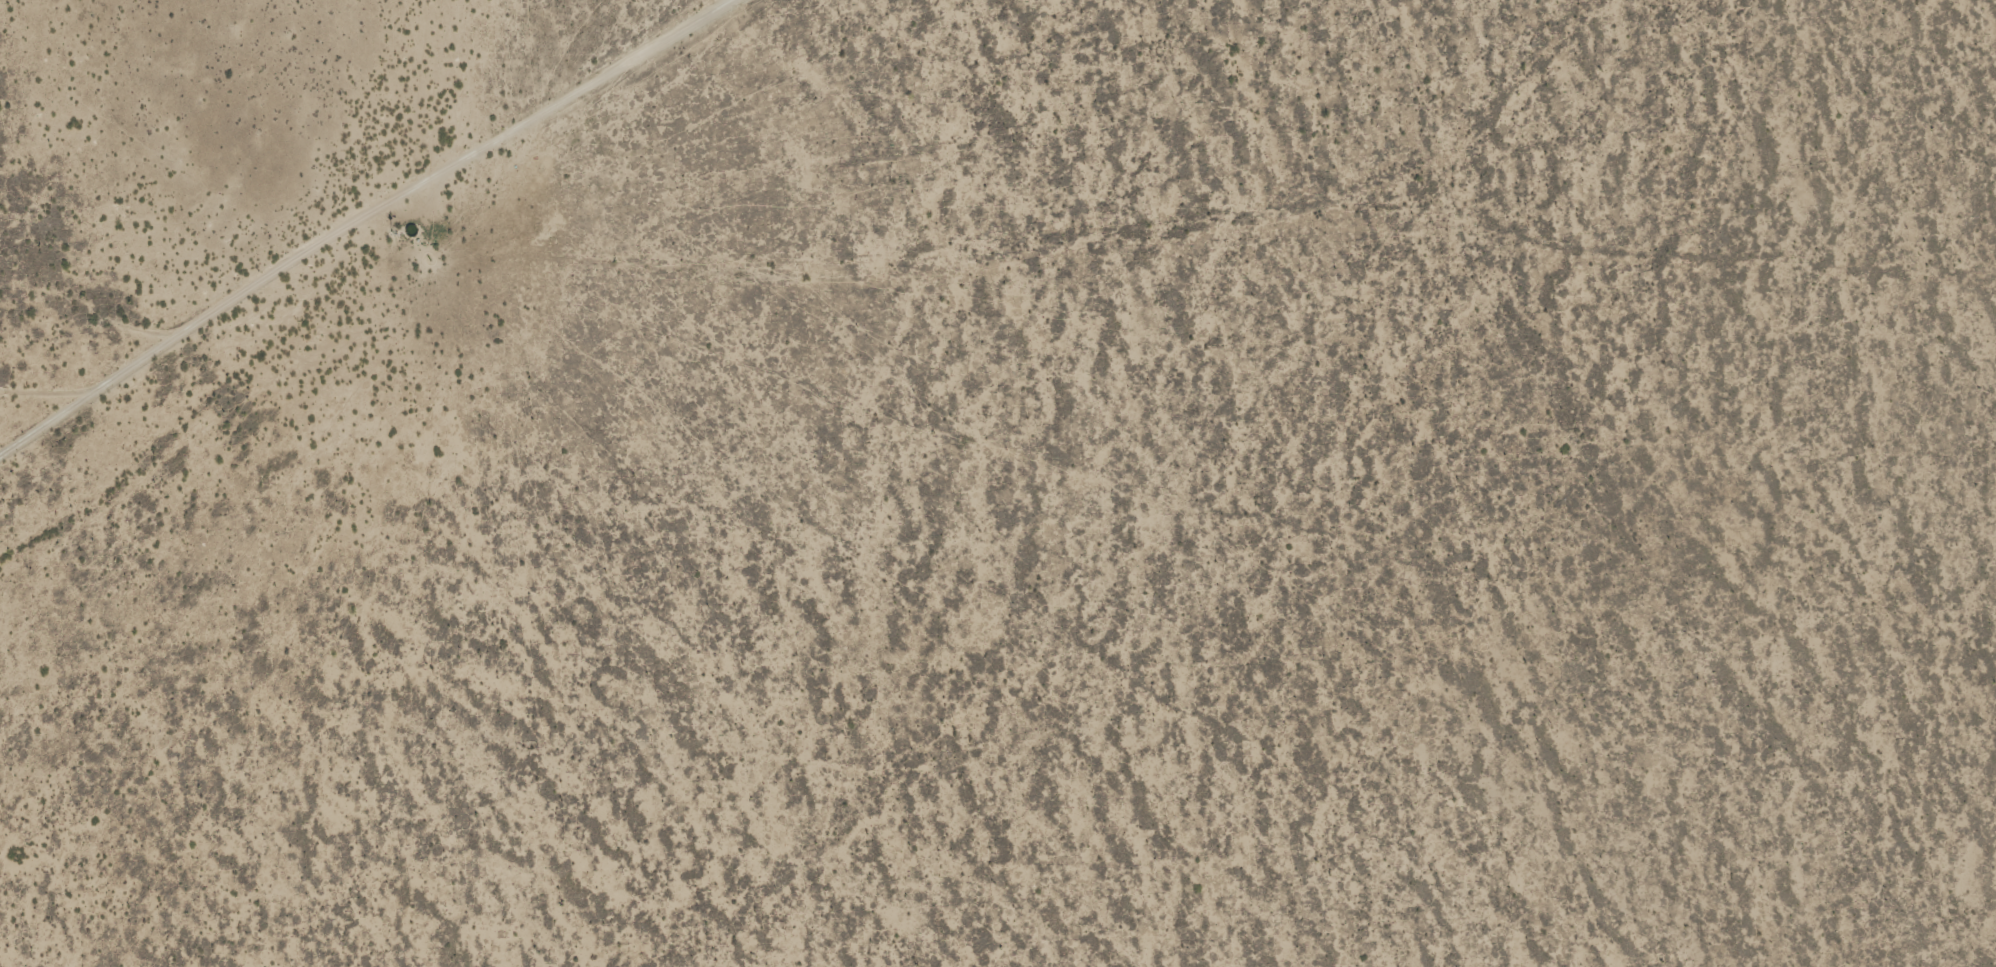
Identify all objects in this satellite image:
road: (389, 238)

